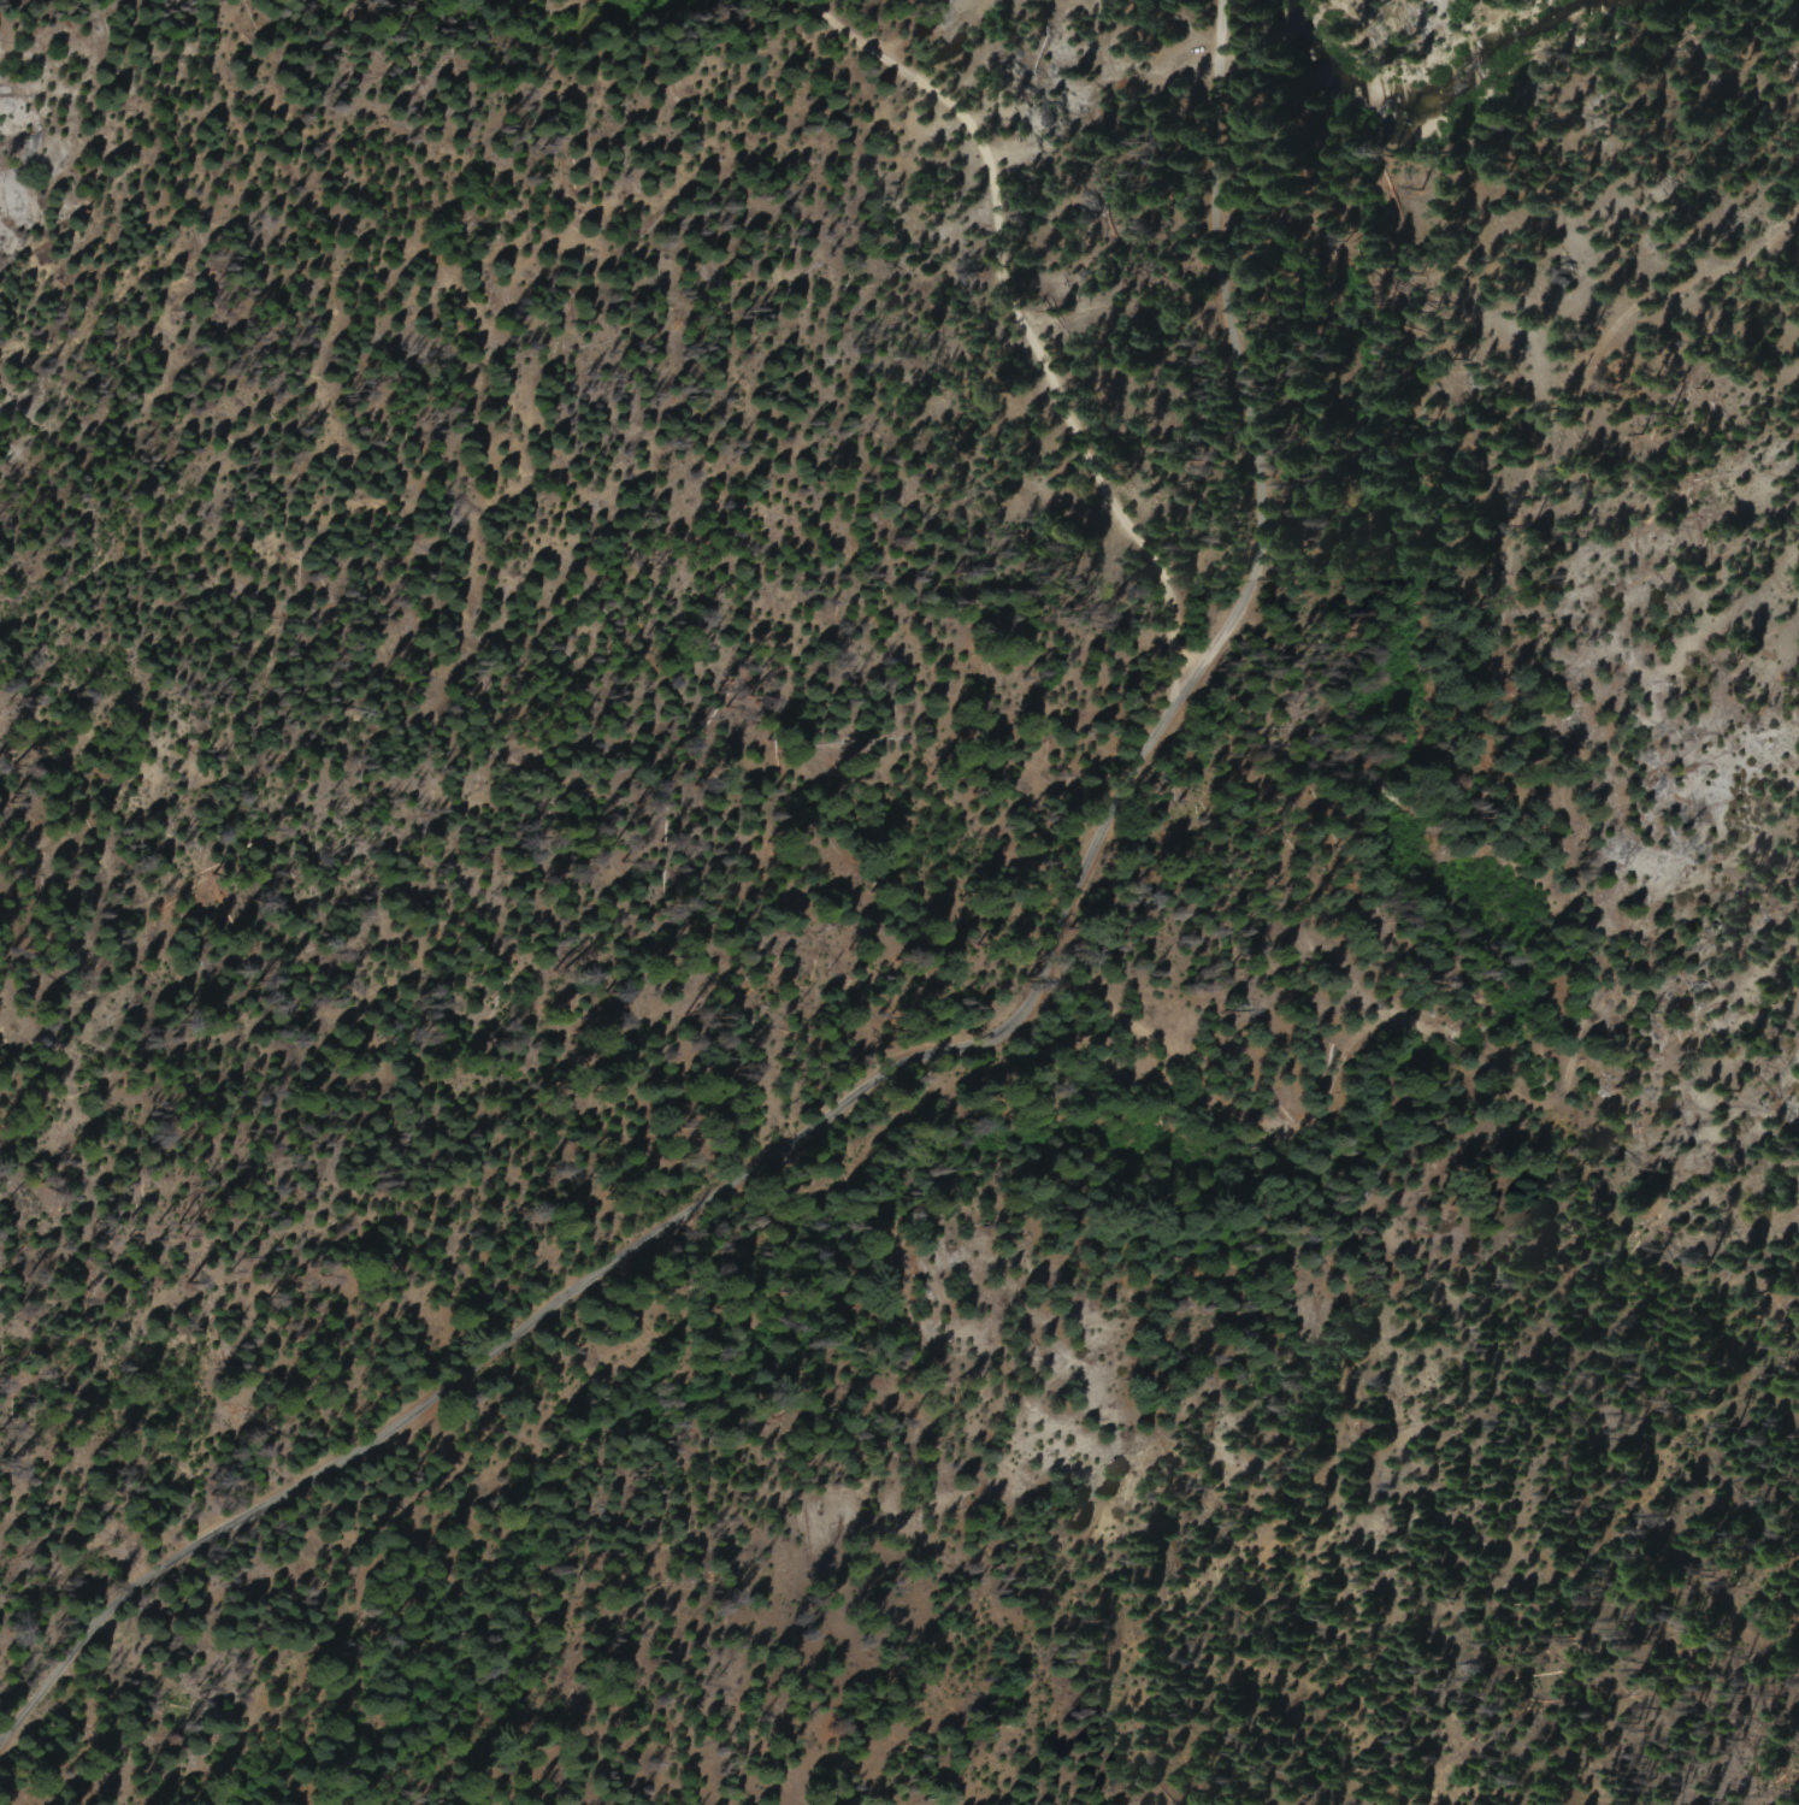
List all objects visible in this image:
road: (1020, 329)
road: (951, 1049)

